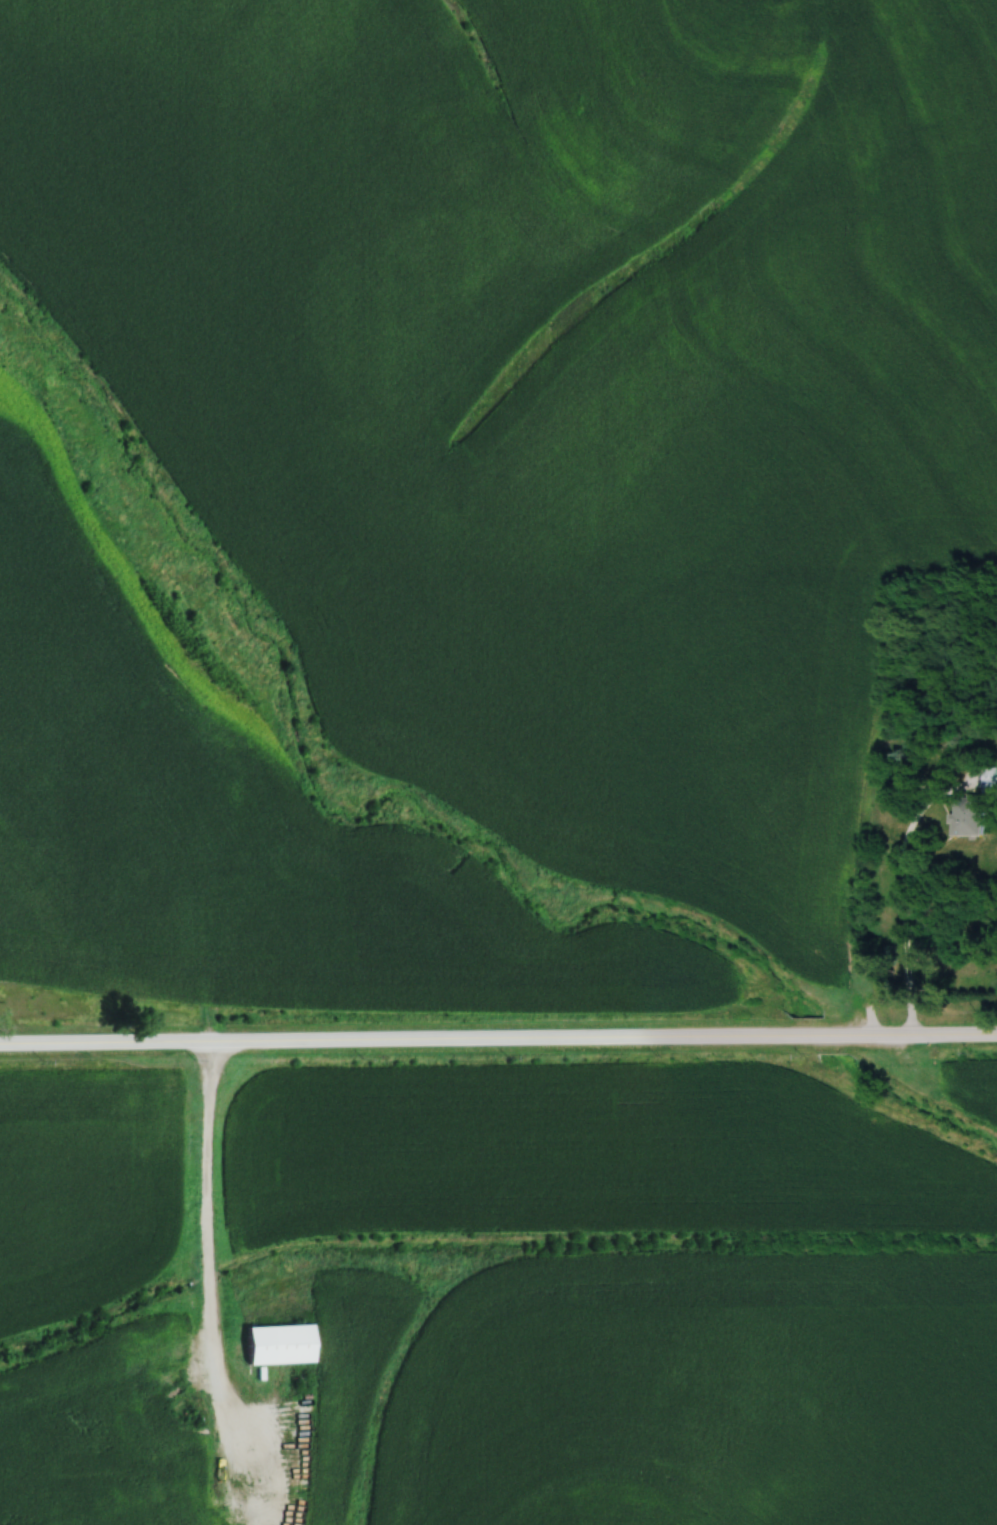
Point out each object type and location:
building: (971, 804)
road: (900, 891)
road: (498, 1037)
road: (207, 1230)
building: (277, 1344)
building: (150, 1493)
building: (212, 1519)

